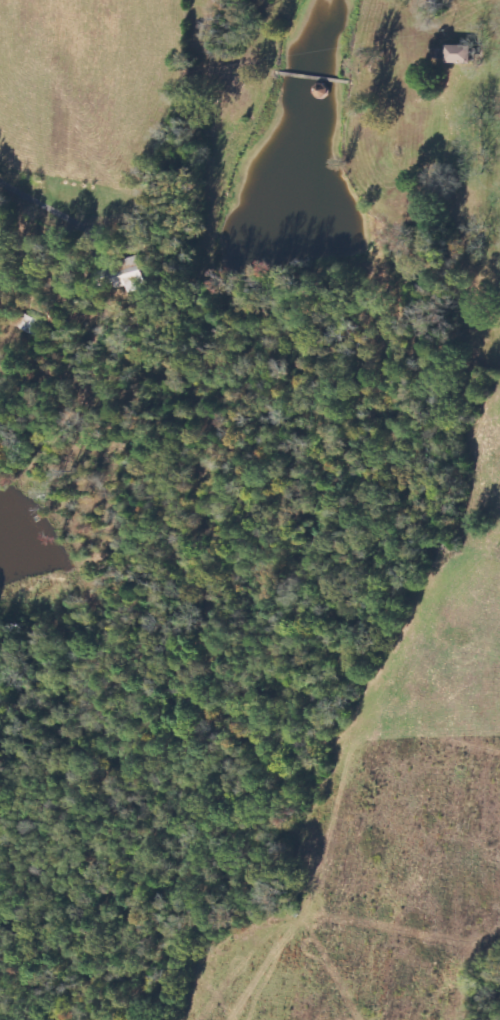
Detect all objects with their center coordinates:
building: (462, 54)

